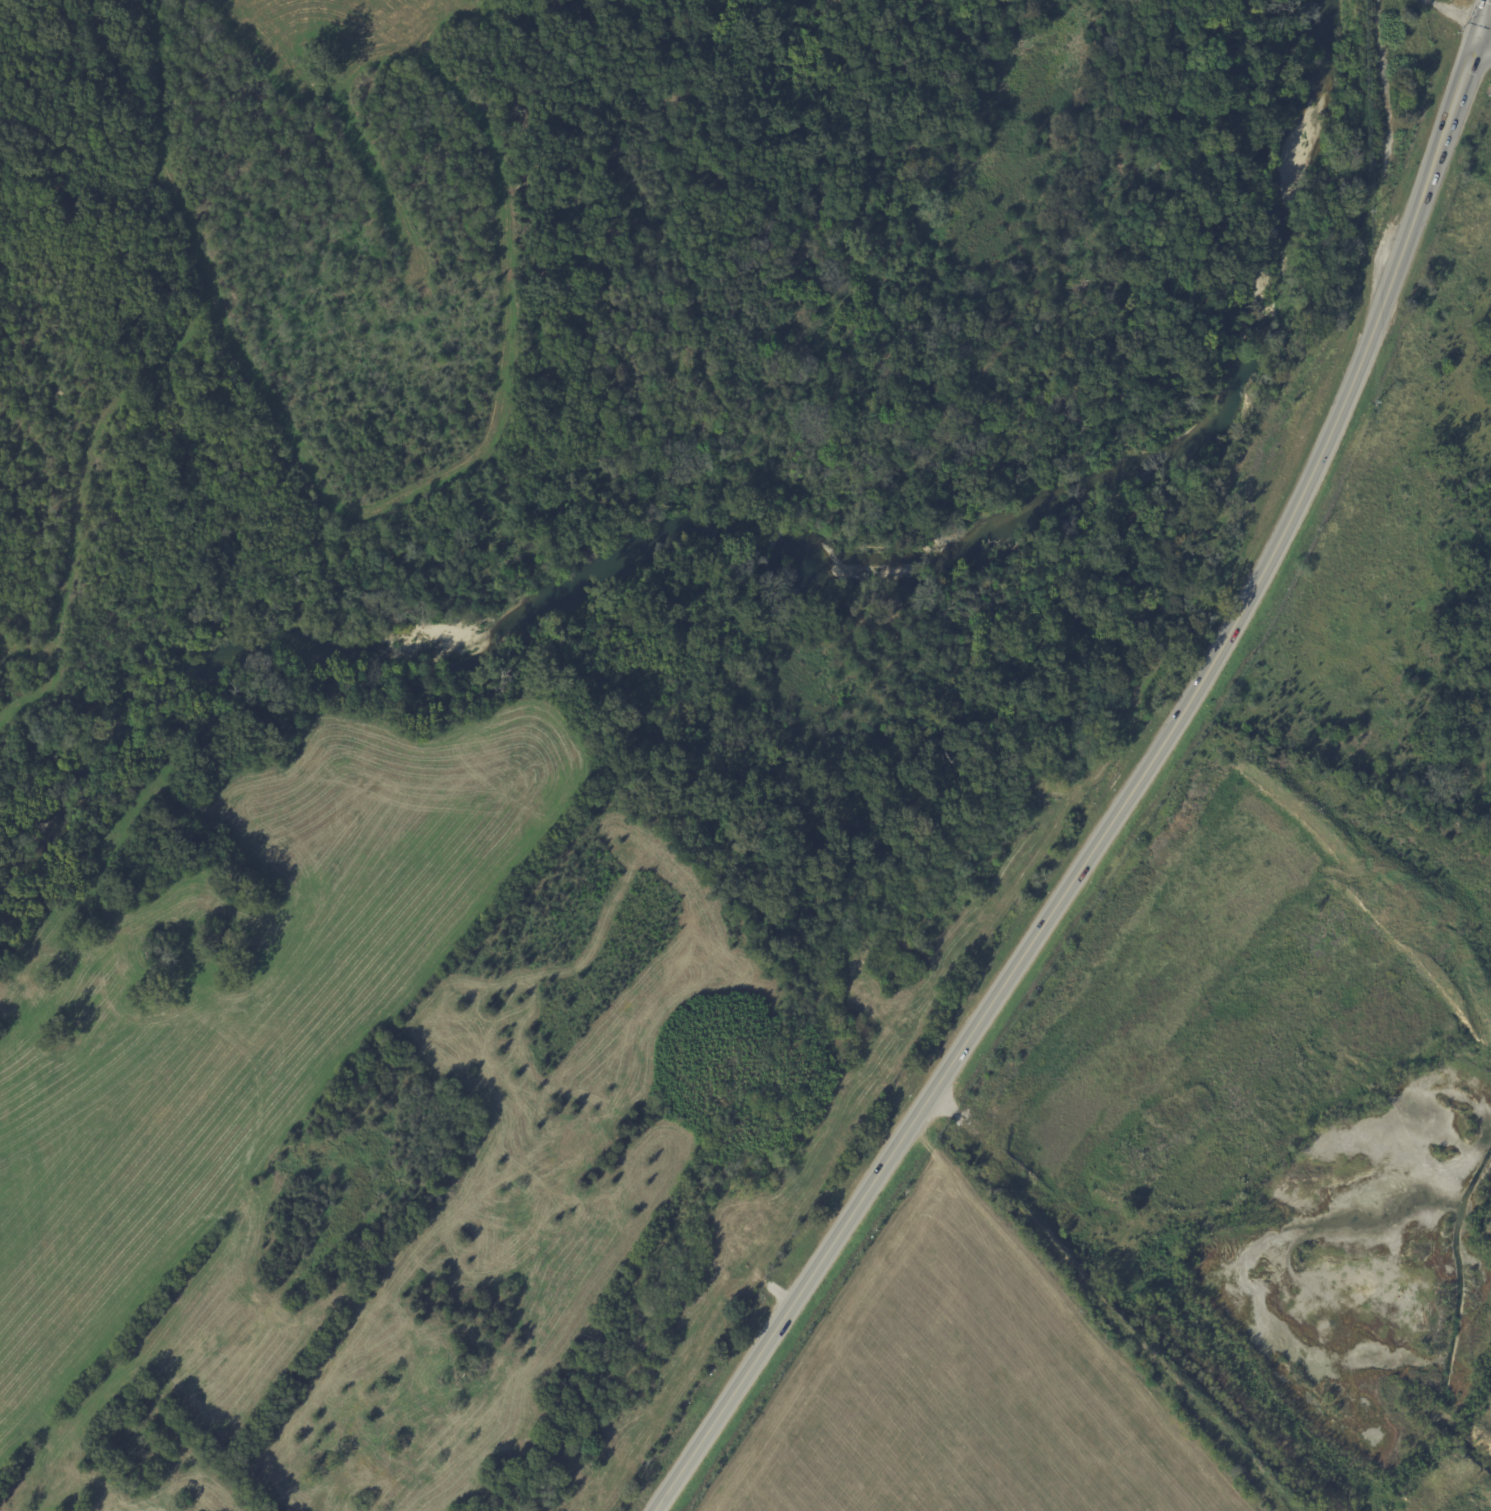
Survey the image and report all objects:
road: (1482, 18)
road: (1483, 41)
river: (776, 532)
airport: (575, 652)
road: (1118, 800)

